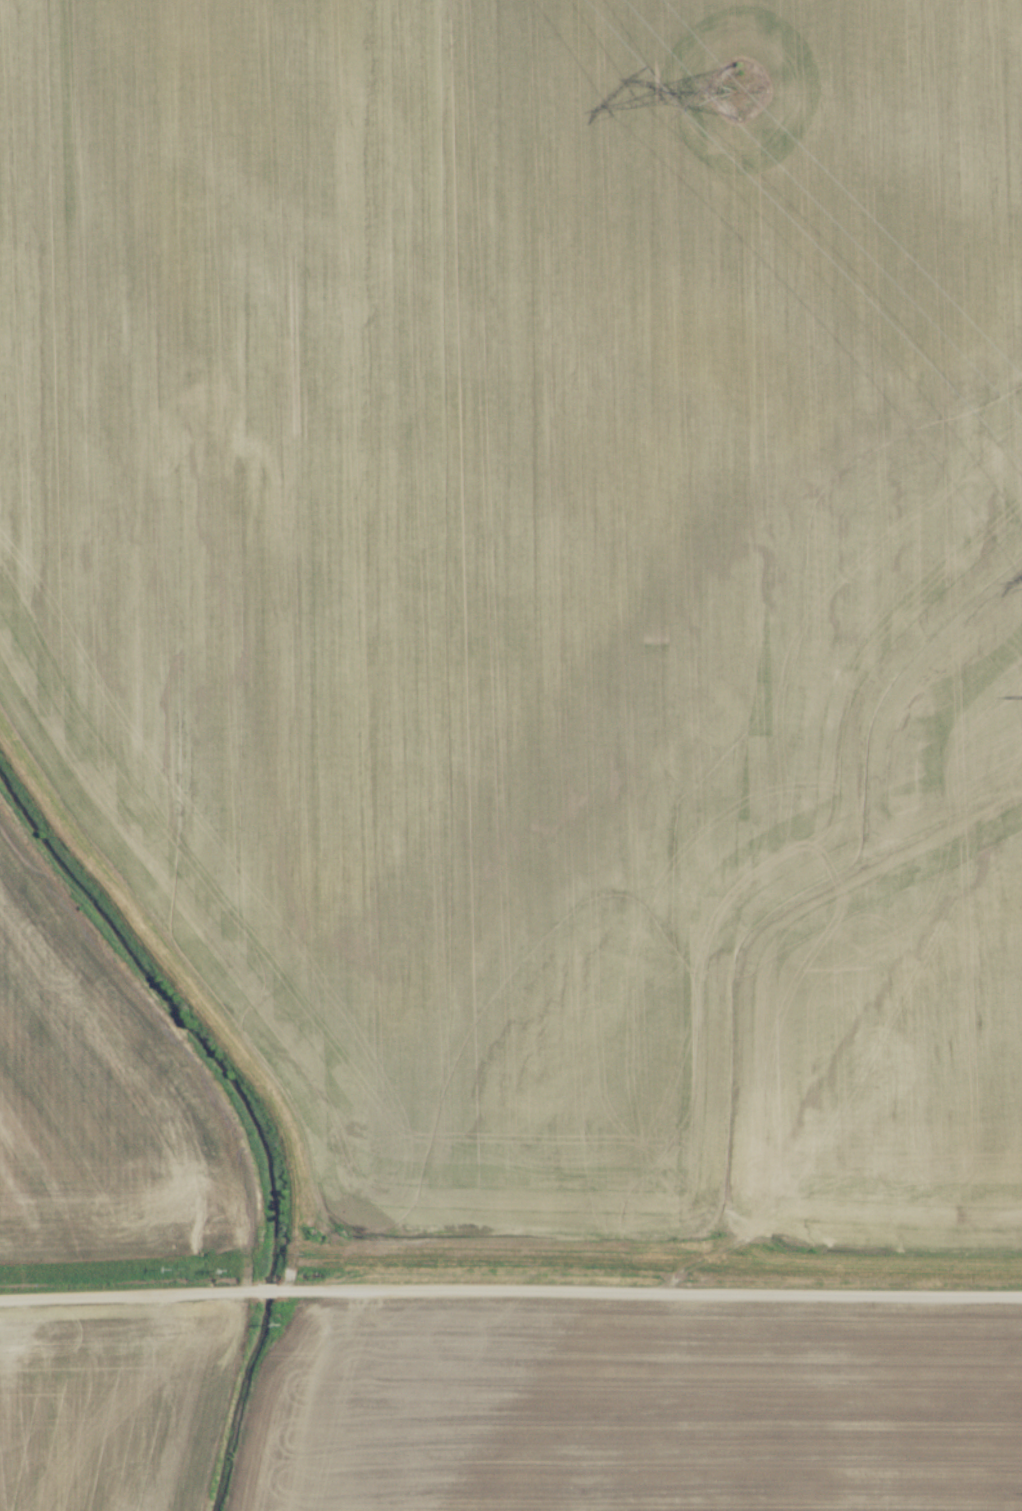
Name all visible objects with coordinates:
power tower: (737, 88)
road: (266, 1294)
road: (649, 1295)
road: (128, 1298)

